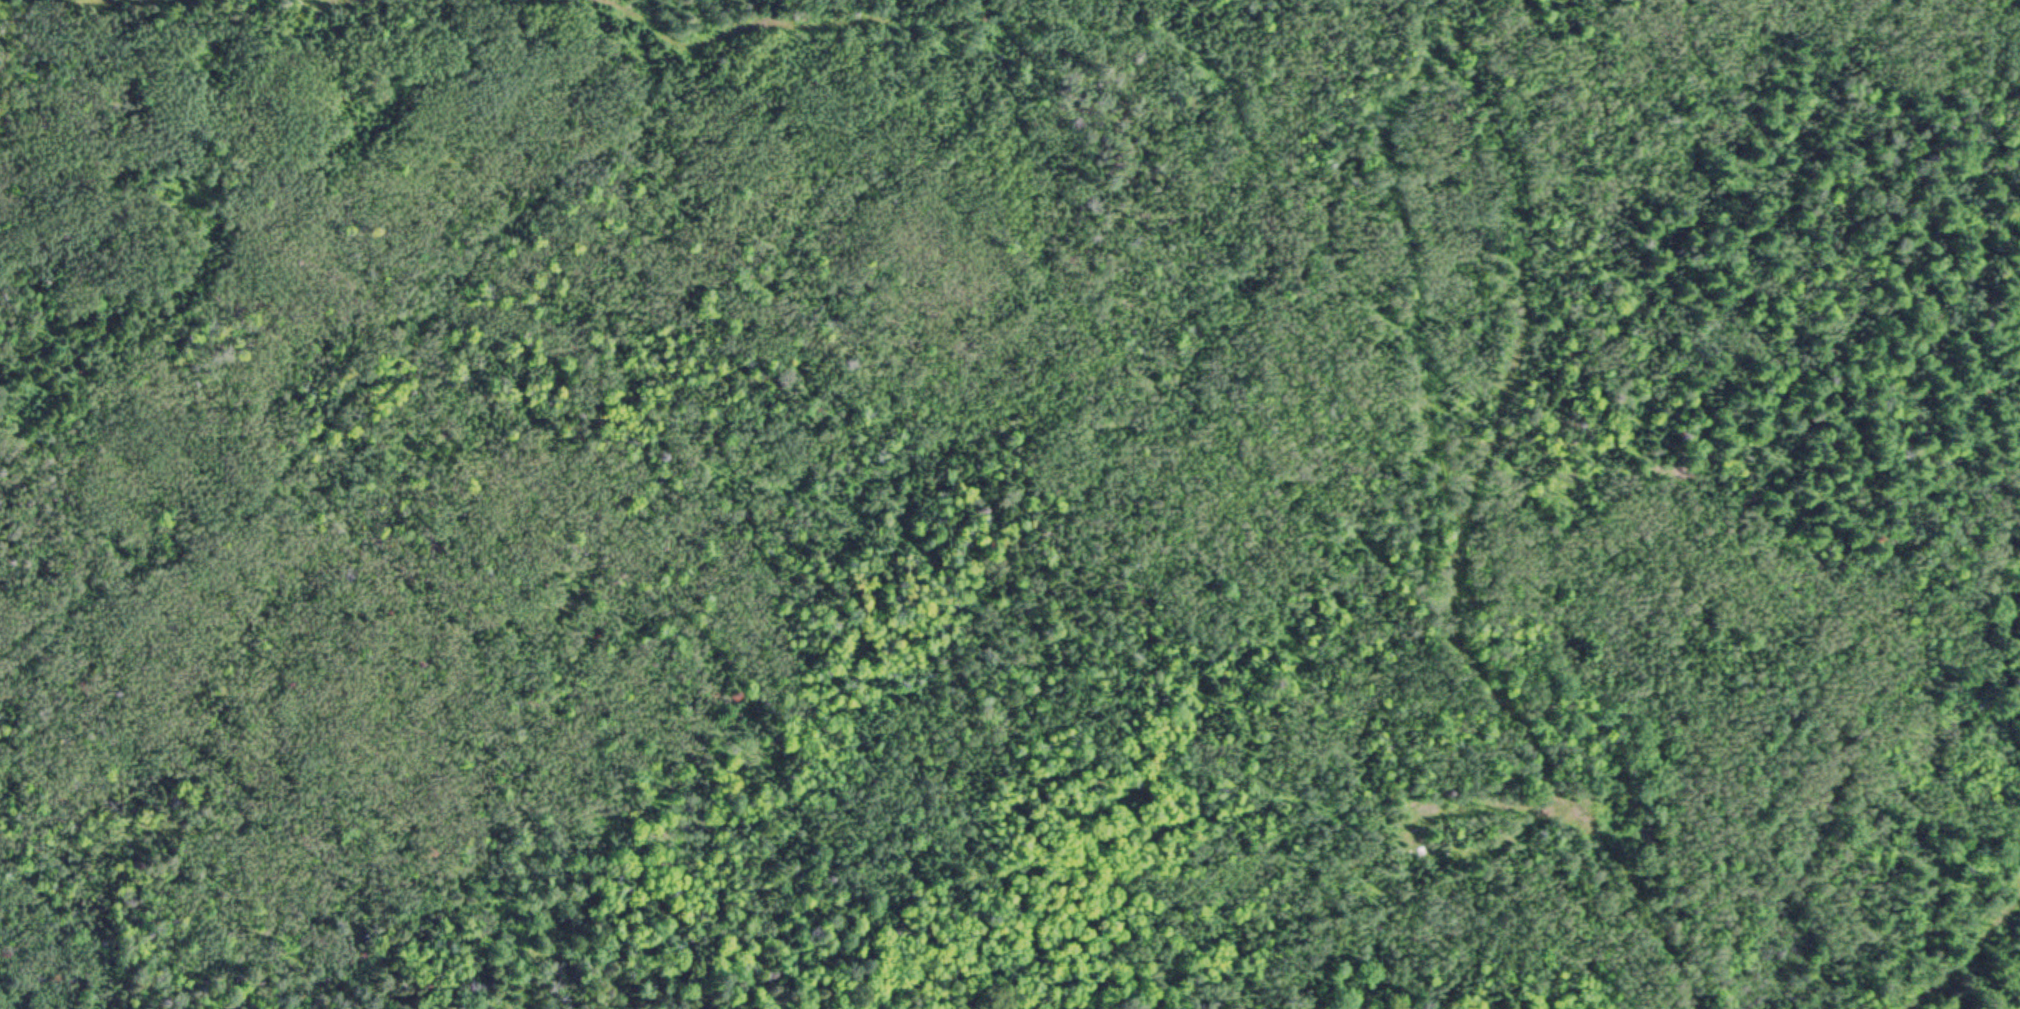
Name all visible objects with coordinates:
park: (888, 503)
road: (1921, 918)

